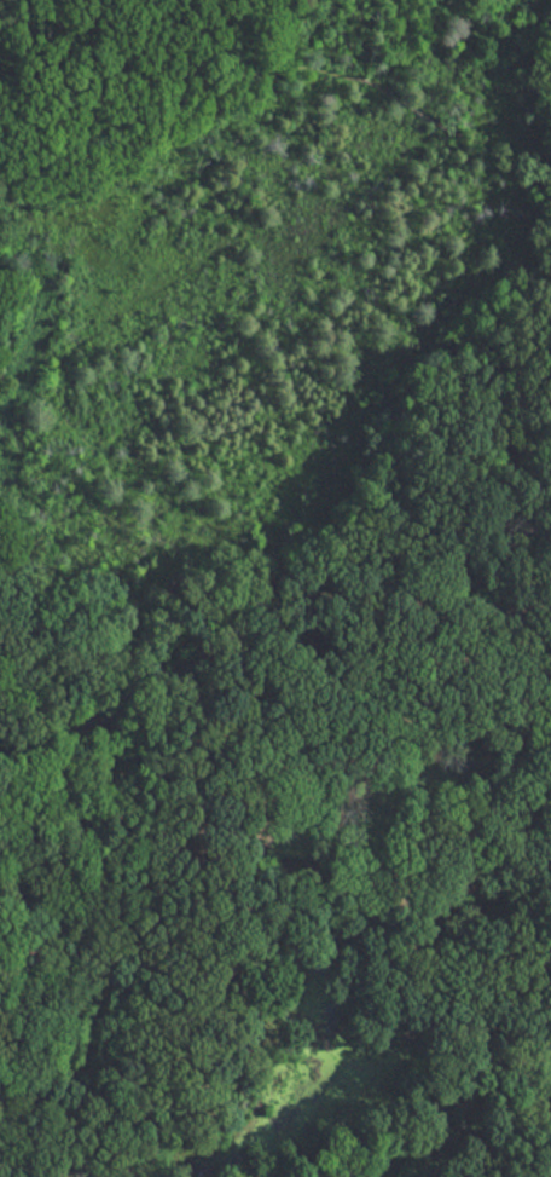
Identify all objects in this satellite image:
road: (278, 71)
park: (275, 283)

